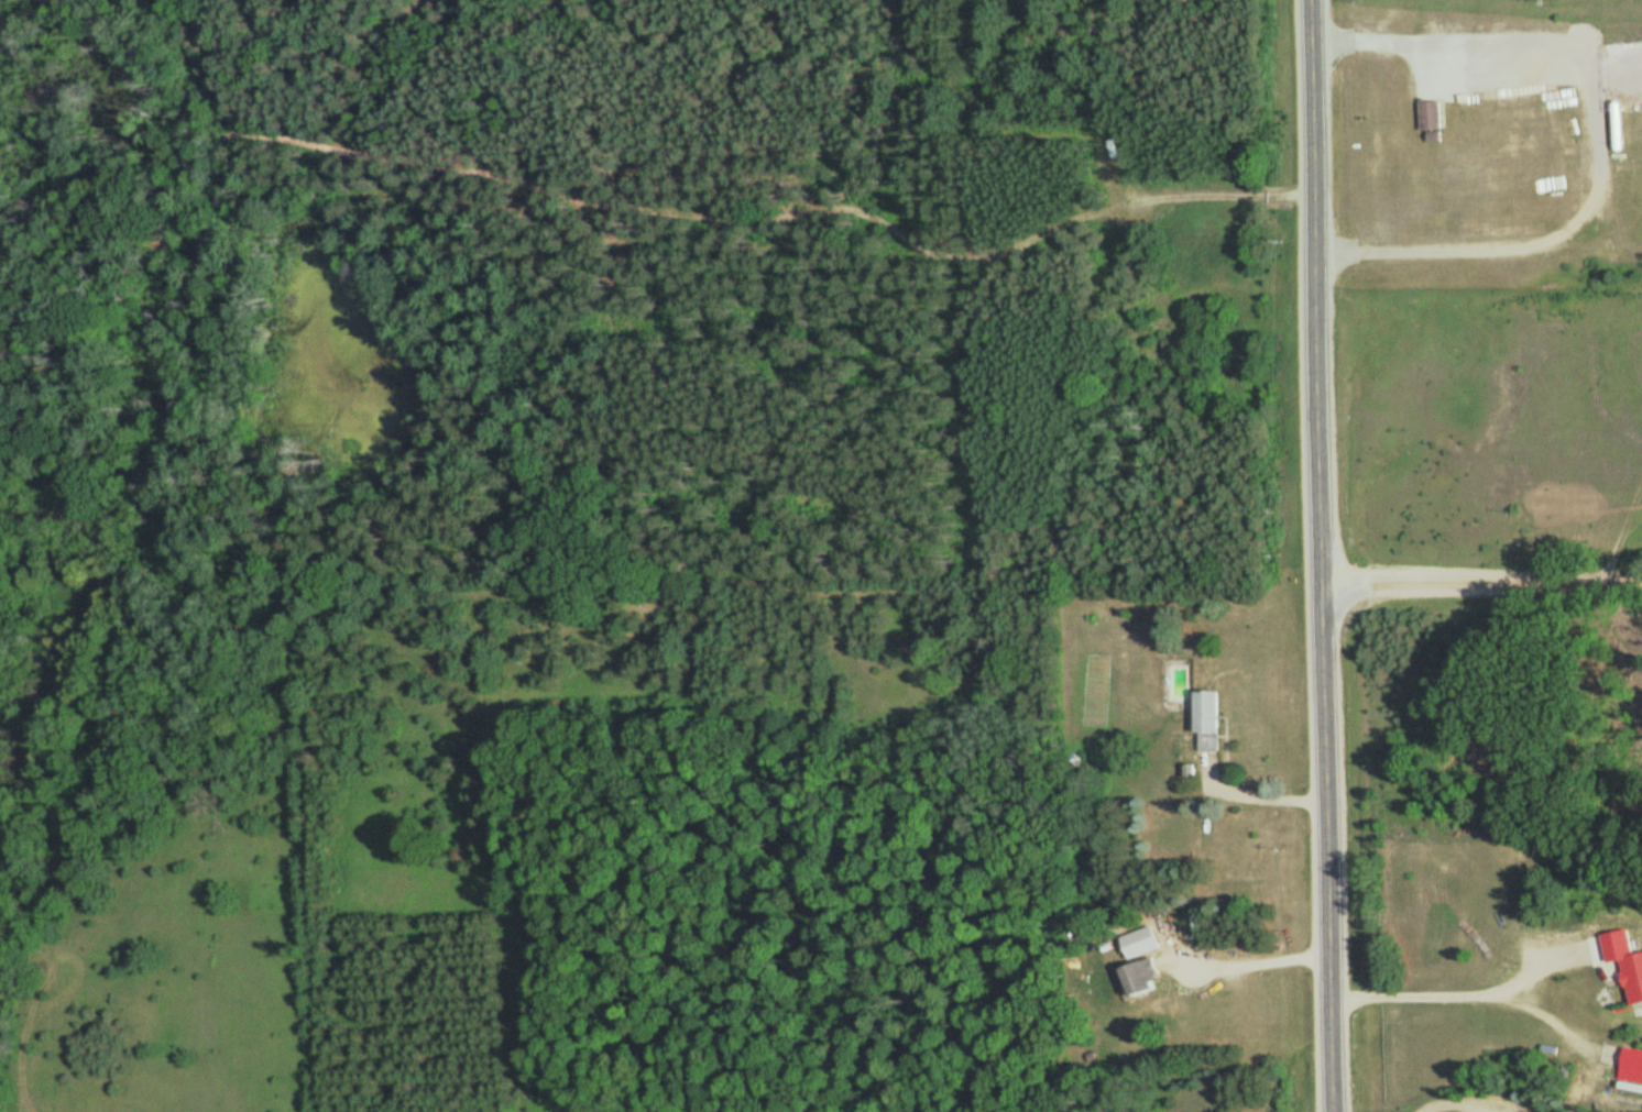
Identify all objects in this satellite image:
building: (1434, 114)
road: (1313, 295)
road: (1479, 587)
building: (1209, 720)
road: (1325, 850)
building: (1620, 957)
building: (1145, 971)
building: (1632, 1065)
road: (1448, 1099)

